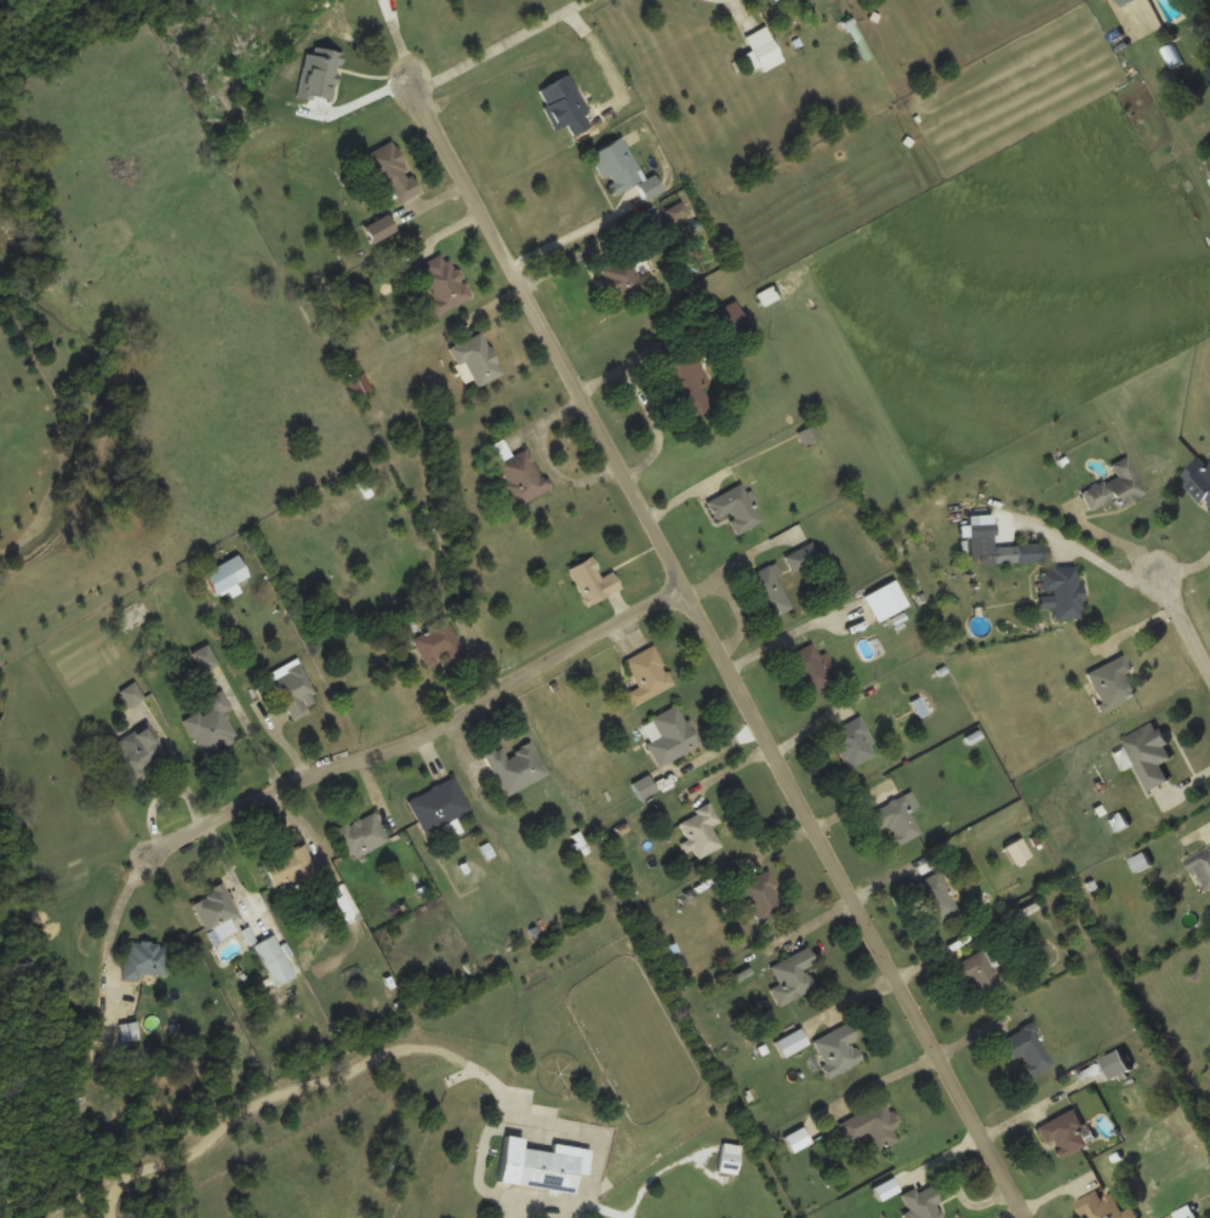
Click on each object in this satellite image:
building: (774, 0)
building: (1125, 1)
road: (468, 32)
building: (764, 49)
building: (565, 106)
building: (617, 165)
building: (393, 172)
building: (381, 228)
building: (624, 274)
building: (445, 283)
building: (730, 318)
building: (476, 358)
building: (359, 385)
building: (687, 385)
building: (523, 477)
building: (1200, 478)
building: (1115, 486)
building: (735, 507)
building: (1017, 553)
building: (803, 557)
building: (227, 575)
building: (593, 581)
building: (1063, 590)
building: (769, 592)
building: (886, 601)
road: (1174, 616)
road: (708, 633)
building: (438, 642)
building: (205, 658)
building: (810, 668)
building: (647, 673)
building: (1112, 681)
building: (293, 688)
building: (212, 725)
building: (673, 735)
road: (409, 738)
building: (854, 741)
building: (139, 753)
building: (1147, 753)
building: (515, 767)
building: (1165, 801)
building: (439, 804)
building: (897, 816)
building: (701, 830)
building: (360, 835)
building: (1203, 866)
building: (290, 867)
building: (763, 895)
building: (936, 897)
building: (216, 907)
building: (147, 958)
building: (274, 961)
building: (978, 974)
building: (793, 975)
building: (130, 1034)
building: (1026, 1048)
building: (839, 1051)
building: (1117, 1064)
building: (872, 1126)
building: (1066, 1134)
building: (538, 1166)
building: (921, 1203)
building: (1103, 1207)

